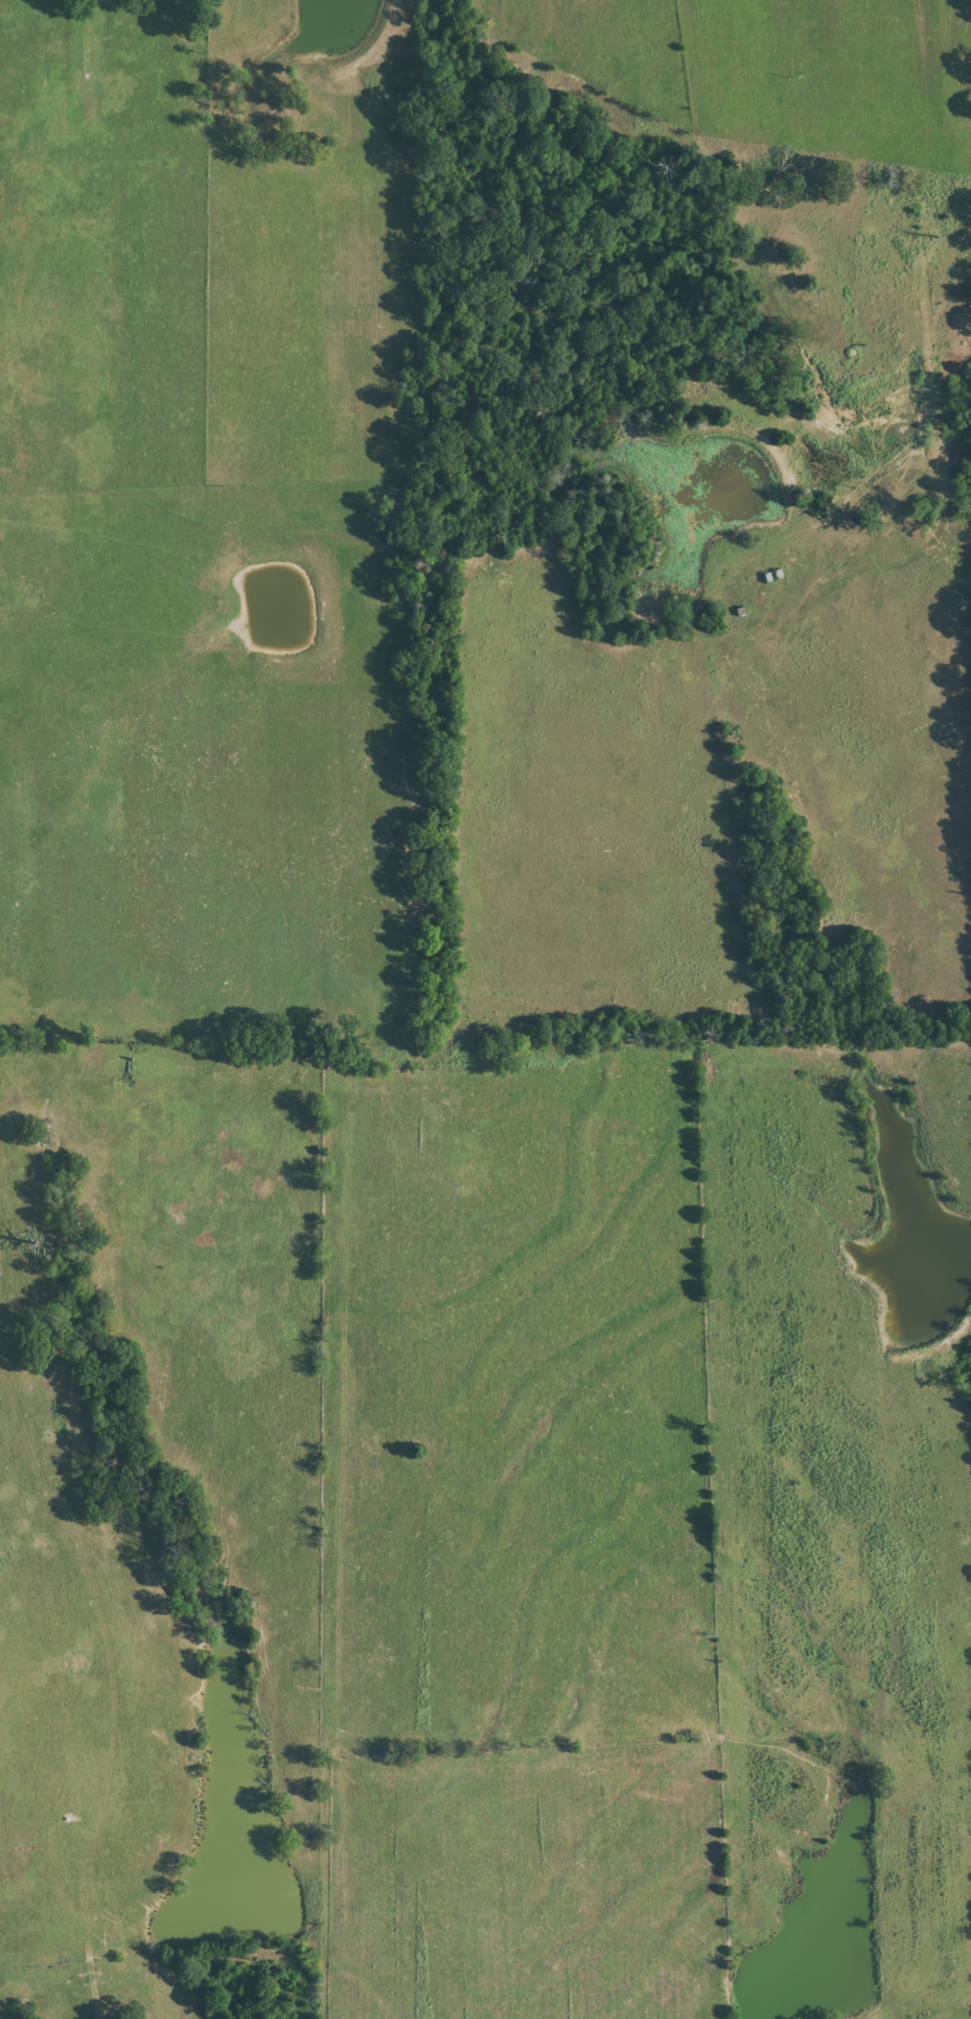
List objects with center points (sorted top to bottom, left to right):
park: (124, 2008)

